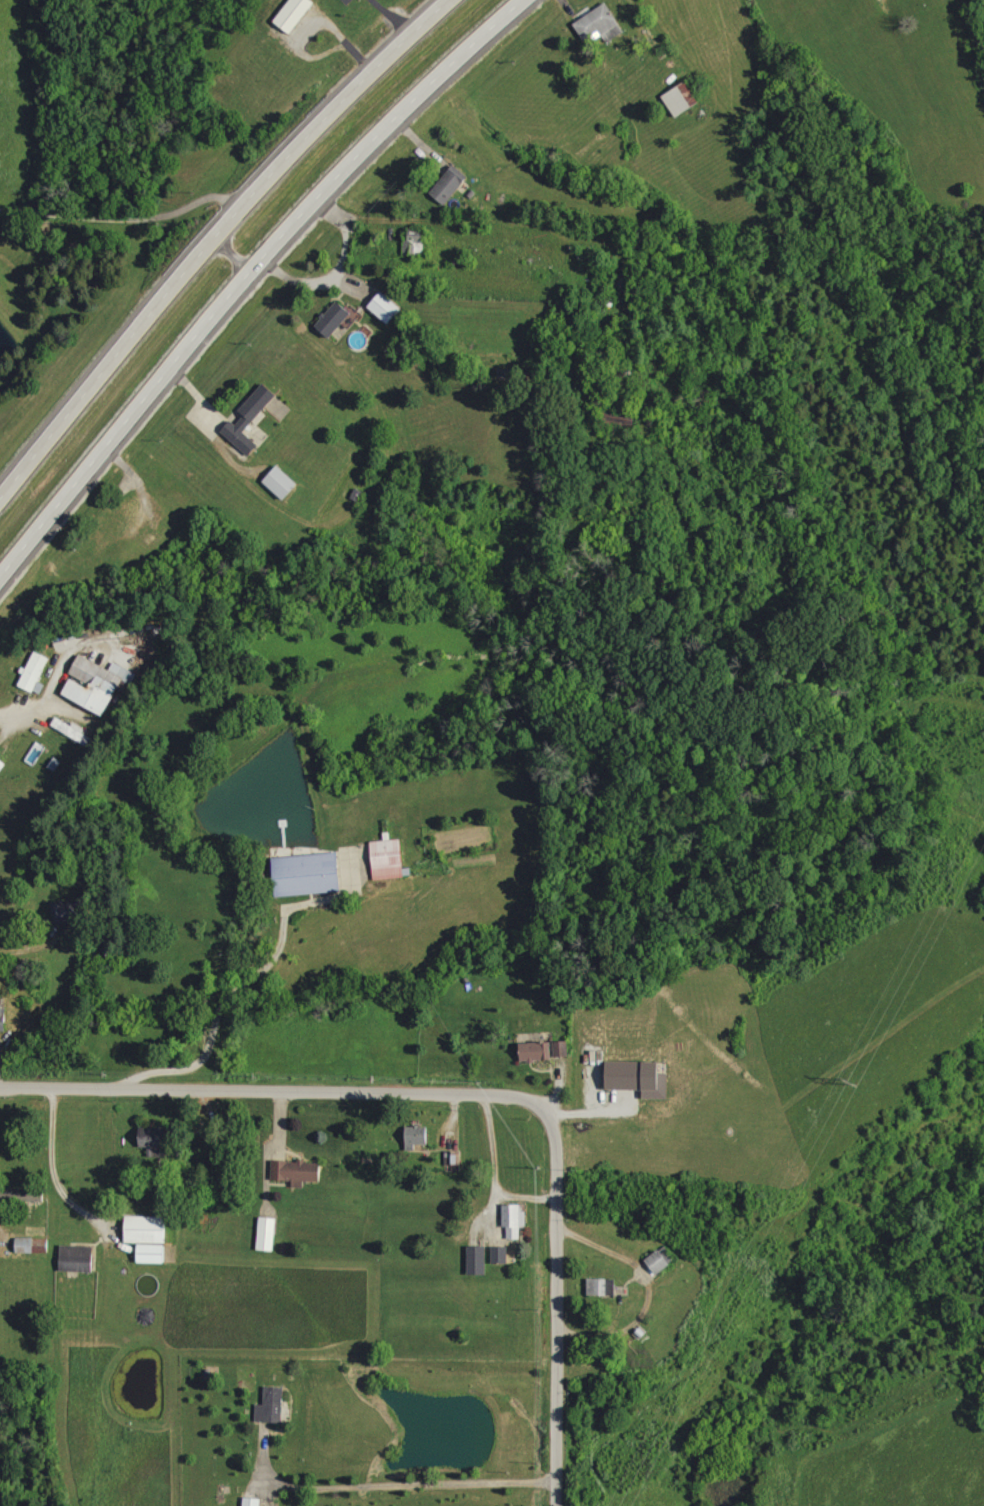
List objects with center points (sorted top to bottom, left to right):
building: (294, 14)
building: (601, 23)
road: (655, 40)
building: (682, 99)
building: (450, 184)
road: (126, 215)
road: (410, 223)
road: (216, 241)
building: (414, 245)
road: (250, 277)
road: (302, 280)
building: (386, 307)
building: (334, 319)
building: (250, 418)
road: (215, 427)
building: (282, 482)
building: (35, 674)
building: (98, 684)
road: (31, 715)
building: (74, 731)
building: (2, 765)
building: (389, 859)
building: (309, 874)
building: (70, 911)
road: (26, 944)
road: (227, 1009)
building: (3, 1020)
building: (562, 1049)
building: (536, 1051)
building: (640, 1078)
road: (474, 1094)
building: (417, 1137)
building: (154, 1141)
road: (274, 1152)
building: (452, 1160)
road: (53, 1170)
building: (296, 1171)
road: (498, 1175)
building: (27, 1195)
building: (515, 1220)
building: (146, 1229)
building: (267, 1234)
road: (2, 1239)
building: (32, 1245)
road: (599, 1250)
building: (152, 1254)
building: (501, 1255)
building: (77, 1258)
building: (478, 1261)
building: (659, 1262)
building: (272, 1405)
road: (394, 1485)
building: (252, 1501)

